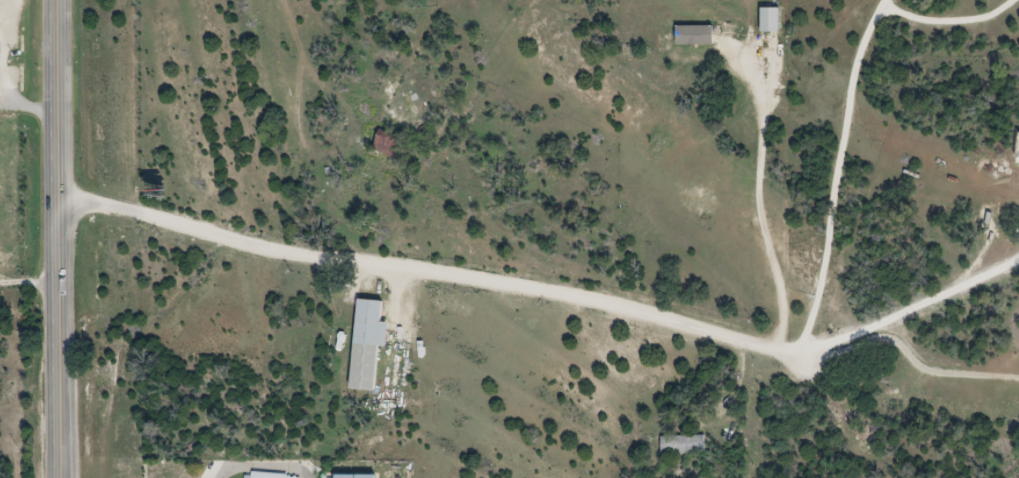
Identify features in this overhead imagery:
road: (947, 15)
building: (765, 18)
building: (698, 34)
building: (1, 53)
road: (839, 178)
road: (763, 208)
building: (984, 216)
road: (62, 239)
road: (436, 270)
road: (31, 276)
road: (910, 304)
building: (373, 343)
road: (908, 356)
building: (678, 443)
road: (262, 462)

